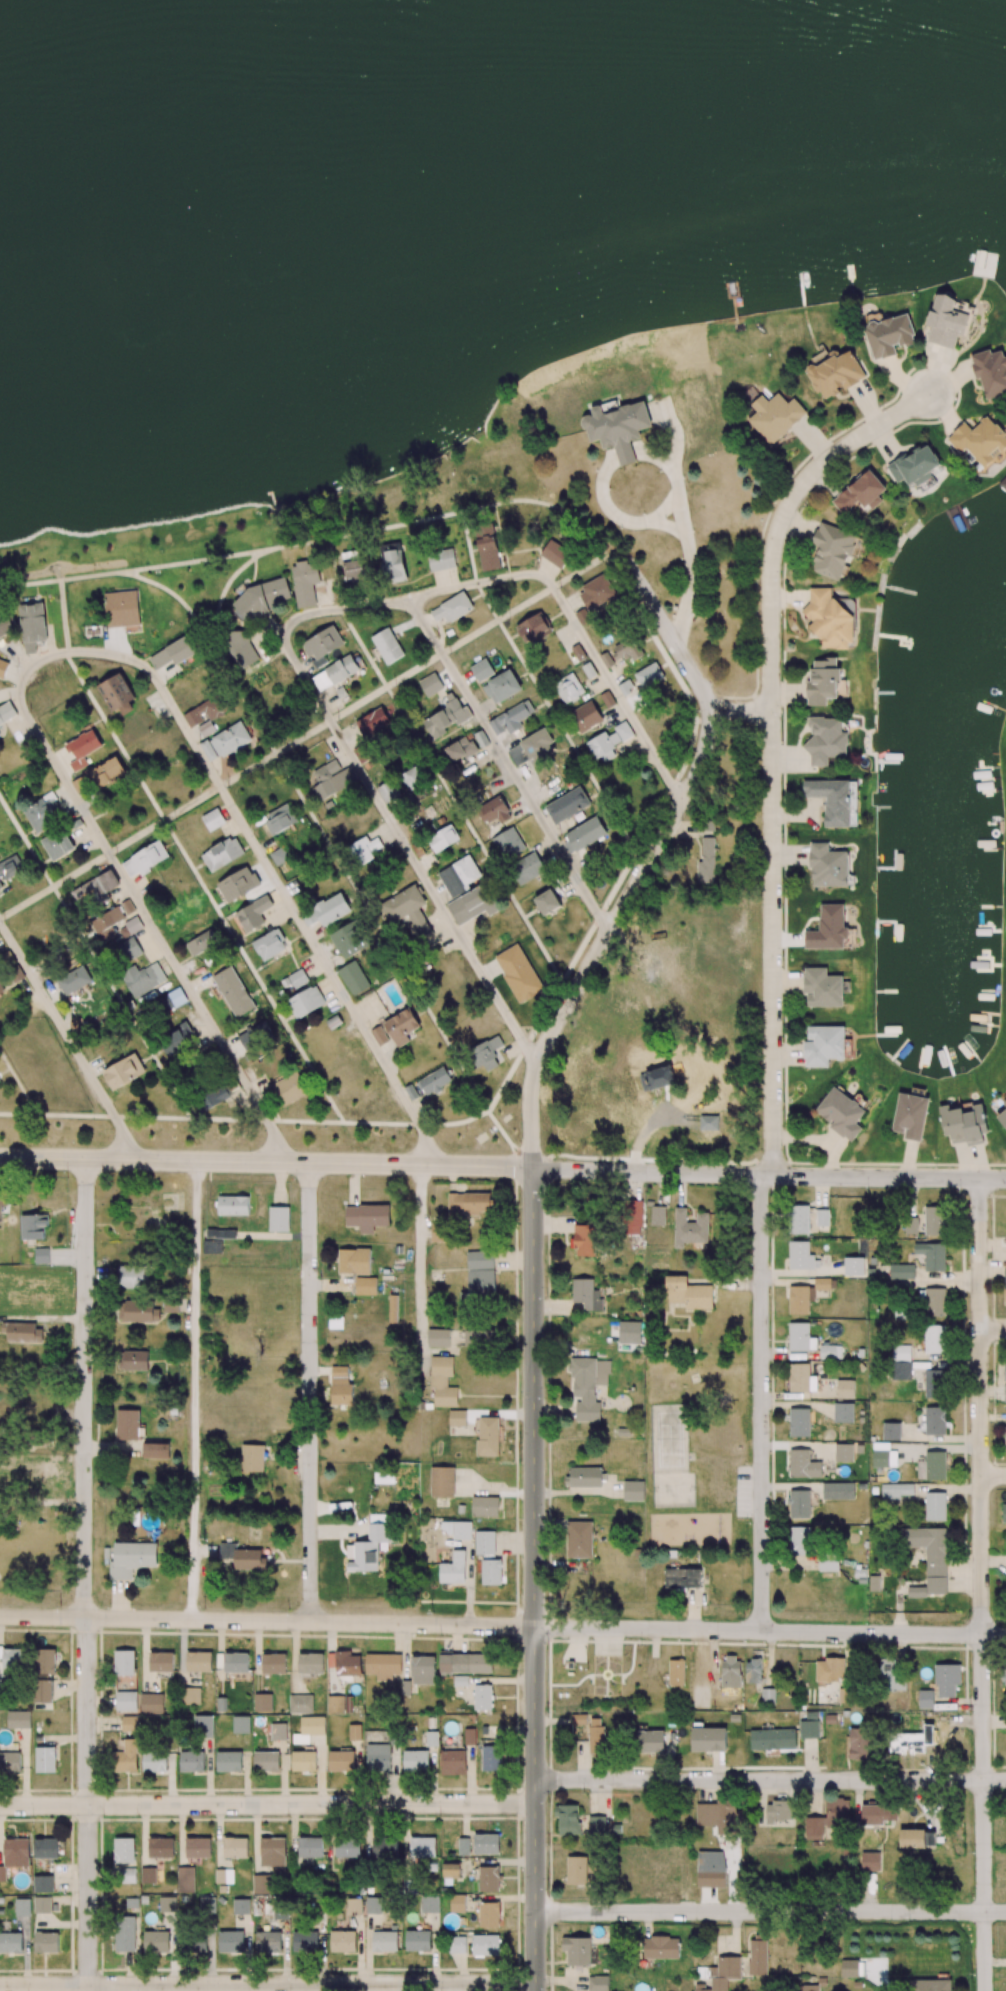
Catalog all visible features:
park: (503, 131)
building: (946, 322)
building: (889, 336)
building: (991, 372)
building: (835, 374)
building: (775, 416)
building: (618, 428)
building: (981, 440)
building: (915, 466)
building: (861, 493)
road: (684, 530)
building: (488, 548)
building: (833, 551)
building: (556, 553)
building: (442, 559)
building: (394, 563)
building: (354, 567)
building: (305, 583)
road: (643, 587)
building: (597, 592)
road: (412, 597)
building: (264, 598)
building: (121, 608)
building: (452, 608)
building: (829, 619)
building: (5, 622)
building: (32, 626)
building: (534, 628)
building: (322, 646)
building: (387, 646)
road: (73, 651)
building: (174, 652)
building: (622, 652)
building: (3, 668)
building: (482, 669)
road: (690, 669)
building: (335, 673)
building: (651, 674)
building: (822, 682)
road: (613, 684)
building: (431, 685)
building: (502, 687)
building: (569, 687)
building: (117, 694)
building: (6, 712)
building: (203, 712)
building: (586, 716)
building: (445, 718)
building: (512, 718)
building: (372, 722)
building: (206, 728)
road: (693, 738)
building: (826, 739)
building: (225, 742)
building: (609, 742)
building: (536, 747)
building: (461, 748)
building: (82, 749)
road: (772, 749)
road: (509, 763)
building: (108, 772)
building: (412, 777)
building: (332, 779)
building: (390, 793)
building: (831, 800)
building: (567, 805)
building: (495, 810)
building: (43, 813)
building: (213, 819)
building: (280, 819)
building: (586, 833)
building: (443, 838)
building: (508, 843)
building: (58, 845)
road: (405, 846)
building: (365, 849)
building: (223, 854)
building: (145, 859)
building: (282, 861)
building: (706, 861)
building: (827, 866)
building: (10, 867)
building: (527, 868)
building: (459, 875)
building: (238, 884)
road: (128, 885)
building: (96, 889)
building: (547, 901)
building: (474, 903)
road: (294, 909)
building: (332, 909)
building: (408, 911)
building: (255, 912)
road: (619, 913)
building: (107, 923)
building: (133, 925)
building: (828, 929)
building: (350, 938)
building: (201, 942)
building: (269, 944)
building: (130, 949)
building: (518, 973)
building: (354, 977)
building: (74, 979)
building: (143, 979)
building: (294, 980)
building: (822, 988)
building: (1, 989)
building: (233, 991)
building: (171, 1000)
building: (306, 1002)
building: (395, 1029)
building: (255, 1035)
building: (183, 1036)
road: (69, 1038)
building: (824, 1046)
building: (488, 1053)
building: (124, 1071)
building: (657, 1078)
building: (430, 1083)
building: (290, 1088)
building: (214, 1096)
building: (1004, 1104)
building: (841, 1113)
building: (910, 1116)
building: (1002, 1117)
road: (268, 1119)
building: (963, 1124)
road: (266, 1161)
road: (769, 1176)
building: (3, 1199)
building: (469, 1203)
building: (233, 1205)
building: (658, 1215)
building: (367, 1217)
building: (632, 1217)
building: (279, 1219)
building: (799, 1219)
building: (935, 1220)
building: (33, 1226)
building: (690, 1228)
building: (439, 1232)
building: (221, 1233)
building: (584, 1239)
building: (212, 1246)
building: (41, 1255)
building: (932, 1255)
building: (800, 1256)
road: (419, 1259)
building: (354, 1261)
building: (853, 1266)
building: (901, 1271)
building: (481, 1274)
building: (133, 1277)
building: (825, 1283)
building: (365, 1286)
building: (1005, 1287)
building: (688, 1293)
building: (586, 1294)
building: (799, 1300)
building: (933, 1301)
building: (170, 1305)
building: (393, 1308)
building: (138, 1311)
road: (993, 1330)
building: (23, 1332)
building: (438, 1337)
building: (801, 1337)
building: (479, 1338)
building: (934, 1339)
building: (831, 1351)
building: (136, 1360)
building: (901, 1362)
building: (1005, 1371)
building: (801, 1378)
building: (443, 1381)
building: (934, 1382)
building: (341, 1386)
building: (588, 1386)
building: (845, 1389)
road: (195, 1390)
road: (310, 1392)
building: (1005, 1394)
road: (761, 1402)
building: (843, 1412)
building: (457, 1418)
building: (935, 1420)
building: (799, 1422)
building: (128, 1425)
building: (891, 1431)
park: (671, 1439)
park: (699, 1455)
road: (993, 1475)
park: (675, 1490)
road: (84, 1575)
road: (534, 1579)
road: (981, 1584)
road: (502, 1626)
road: (770, 1780)
road: (268, 1804)
road: (770, 1911)
building: (156, 1941)
building: (194, 1941)
building: (49, 1942)
road: (268, 1985)

